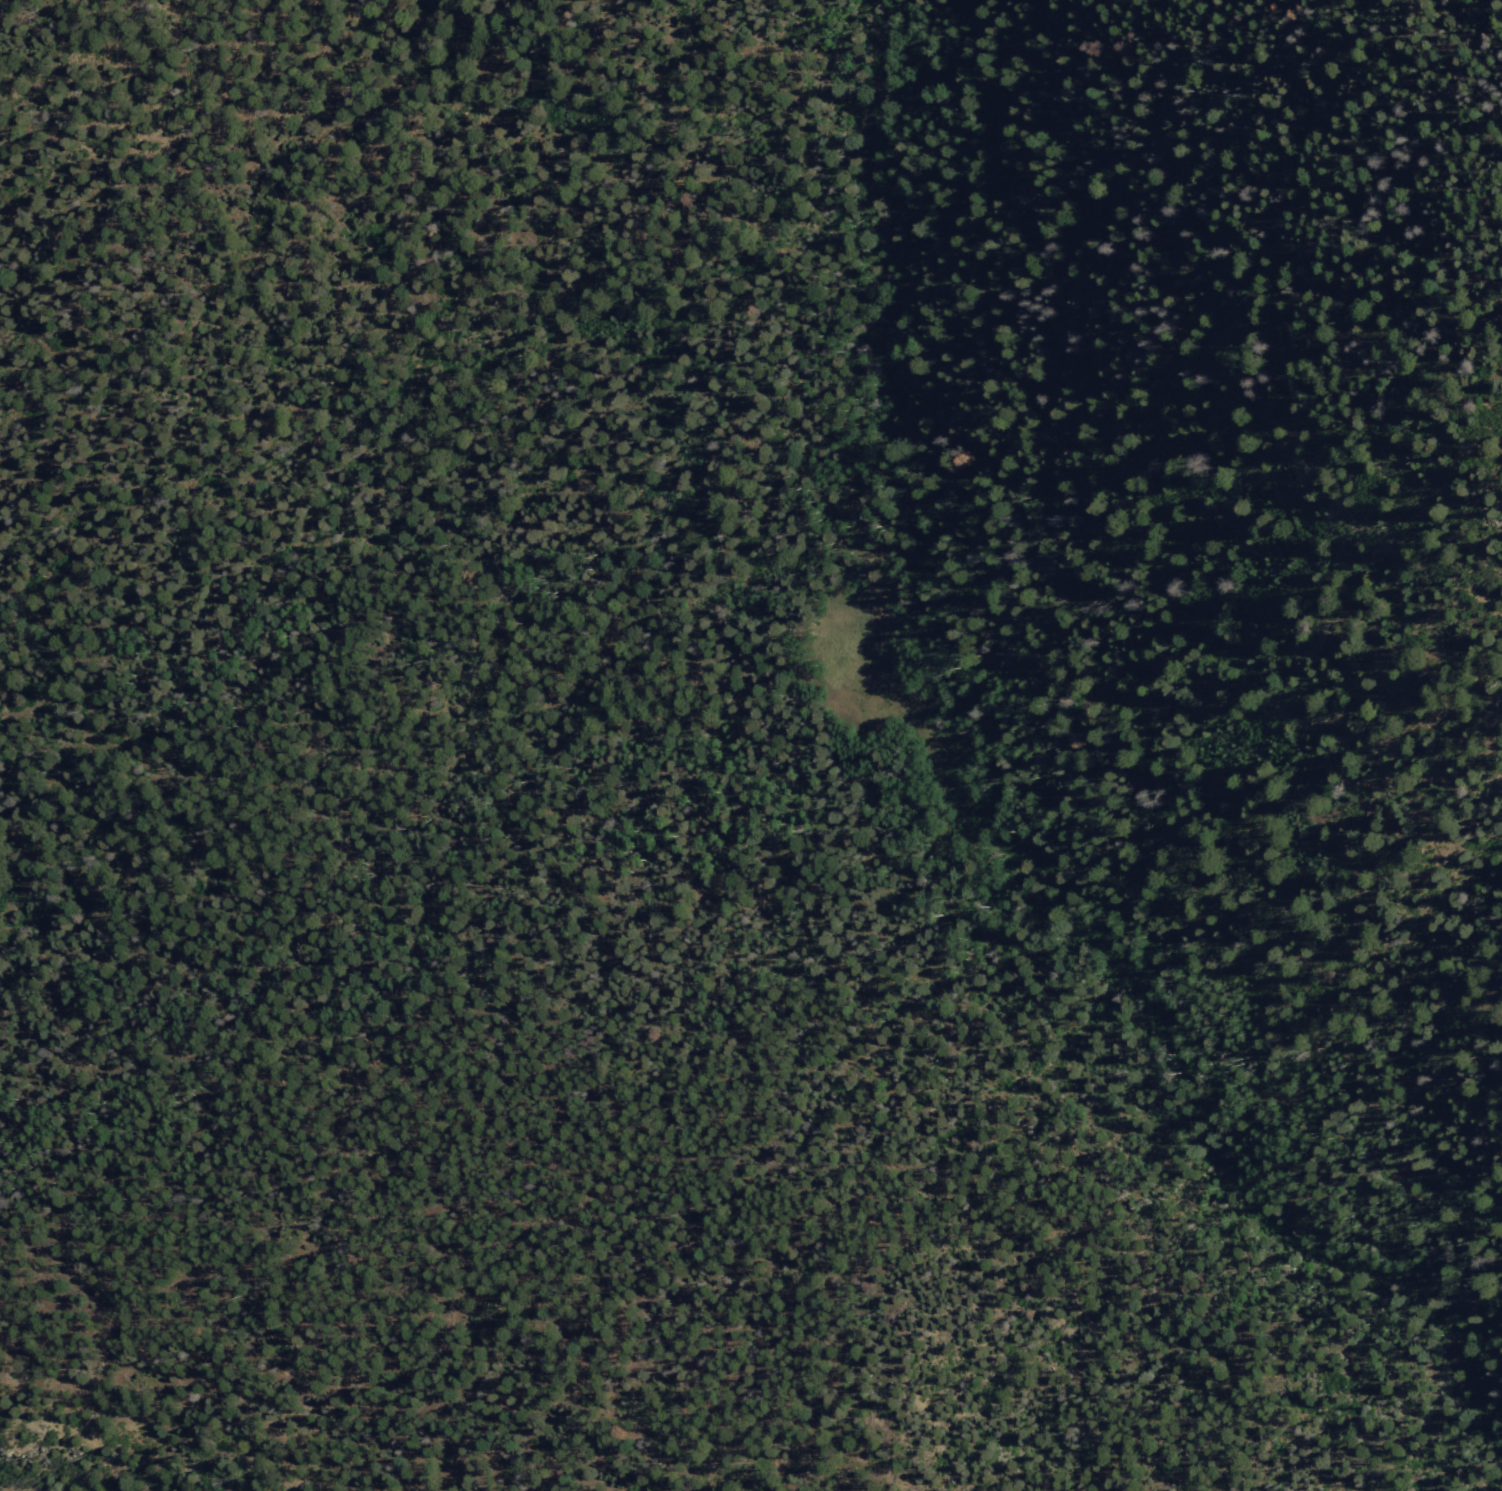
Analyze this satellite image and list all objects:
road: (1013, 752)

